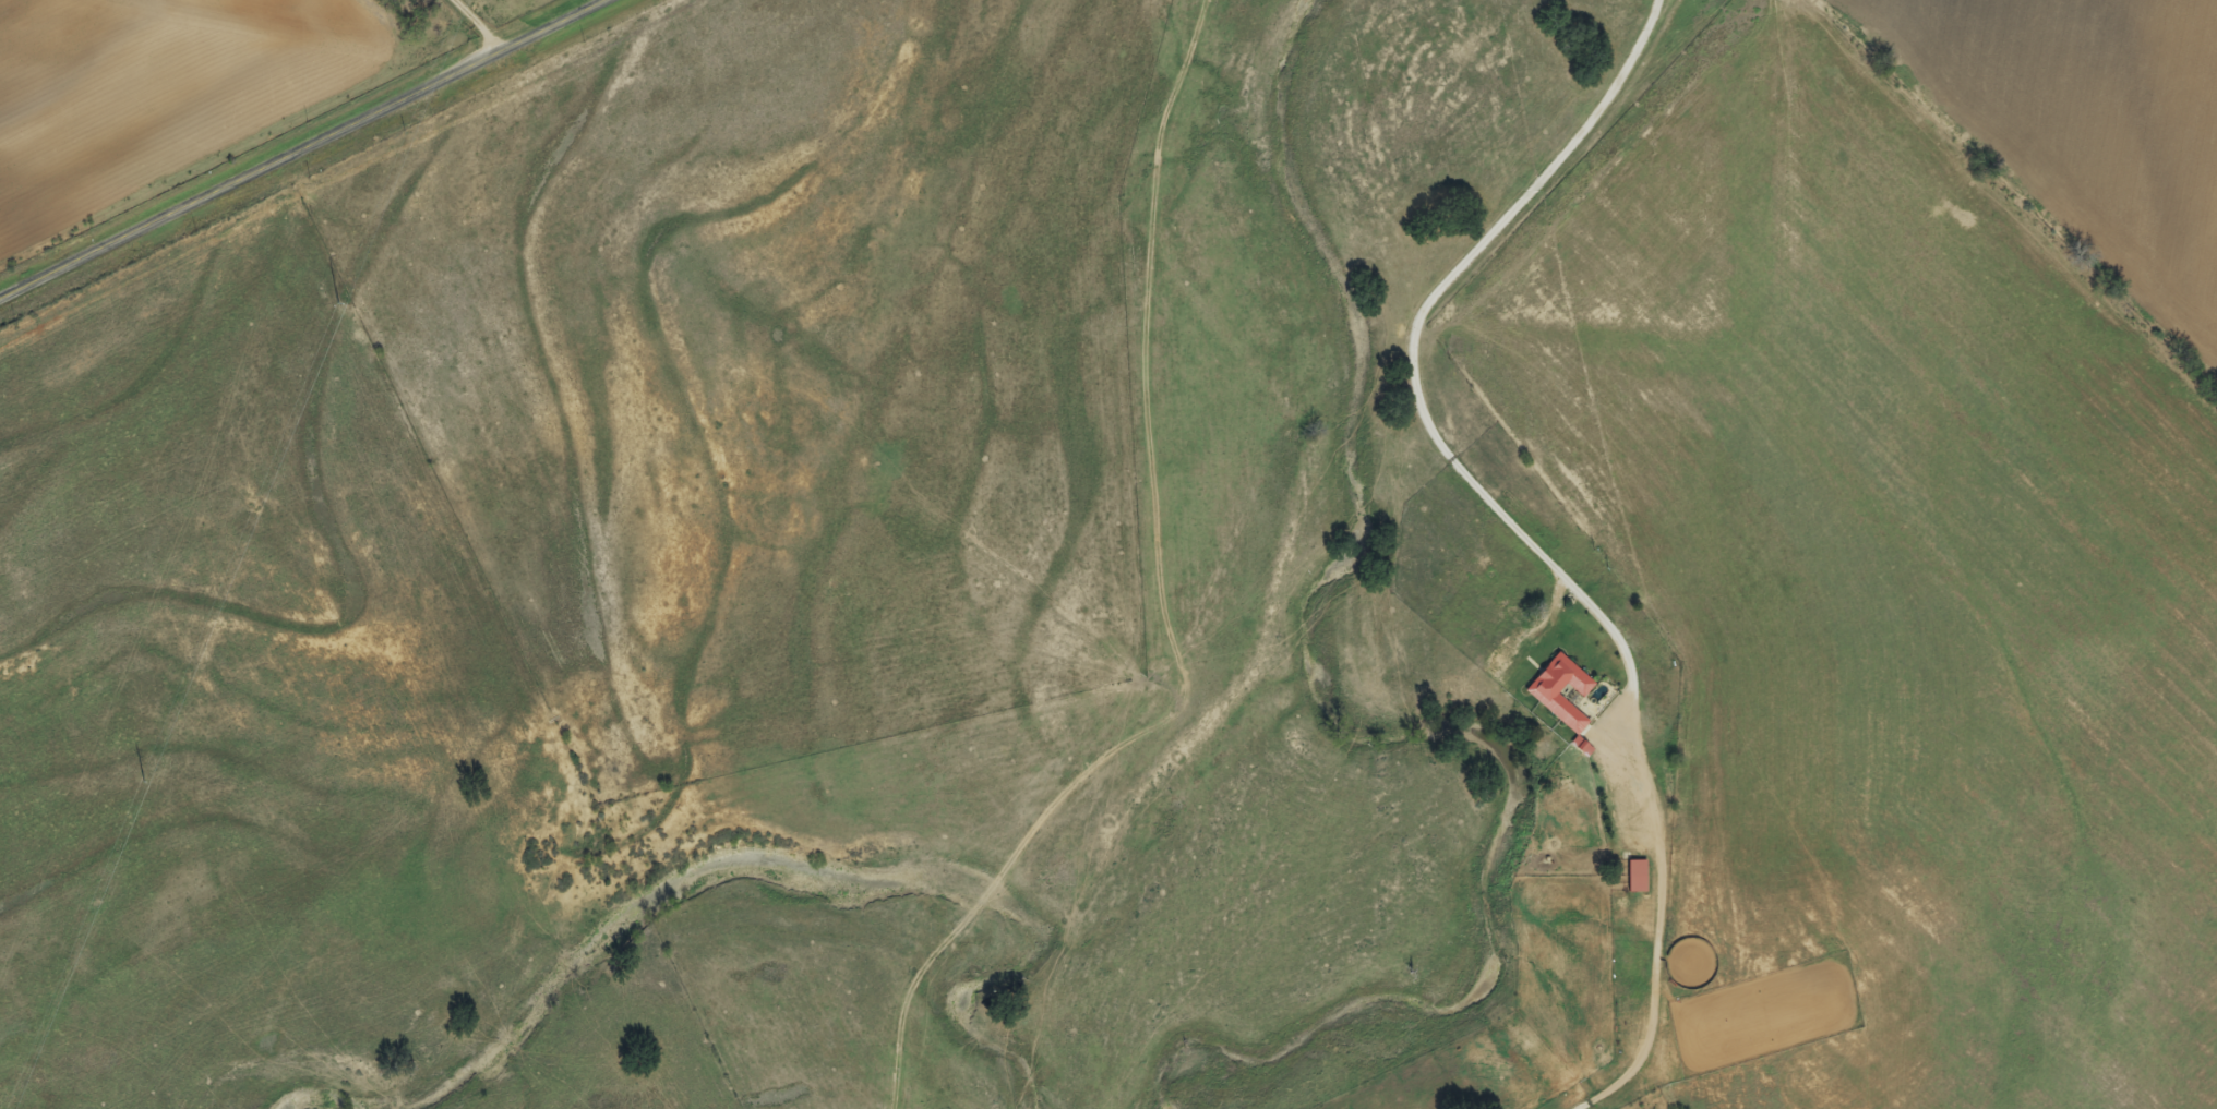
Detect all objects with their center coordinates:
road: (462, 28)
road: (302, 148)
building: (1553, 687)

